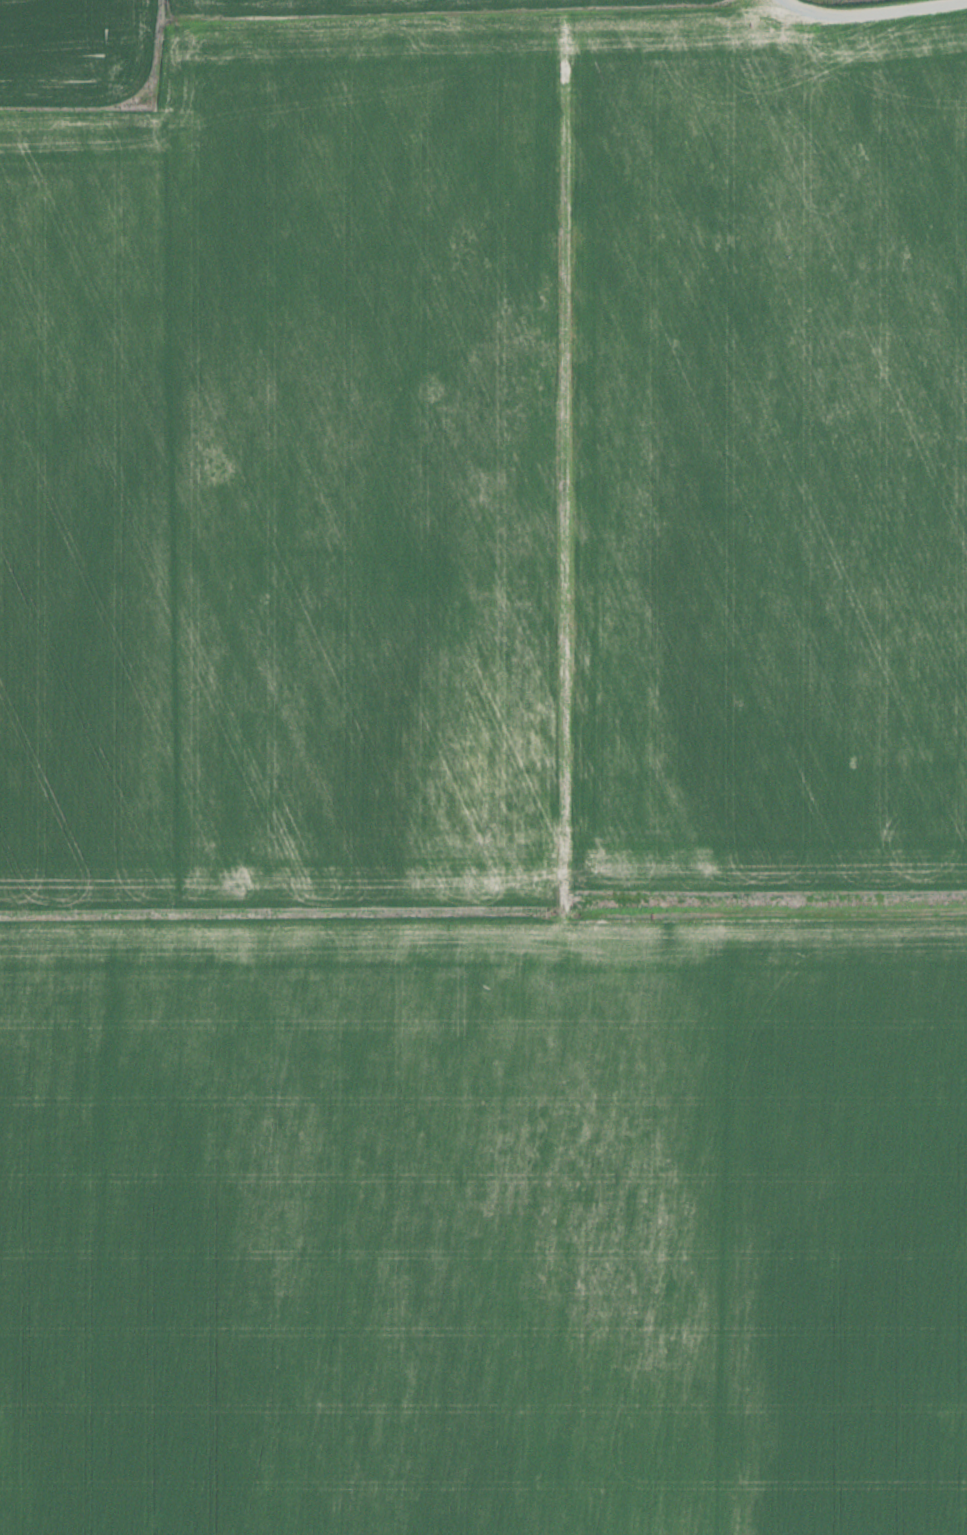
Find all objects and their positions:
road: (858, 8)
road: (351, 21)

